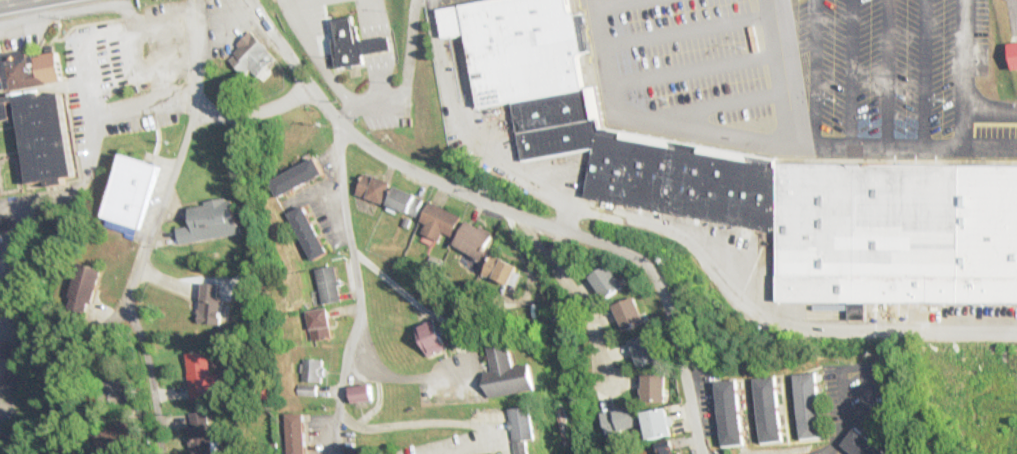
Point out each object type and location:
road: (287, 0)
road: (608, 2)
road: (688, 28)
building: (352, 43)
street lamp: (742, 47)
road: (376, 48)
building: (1012, 54)
building: (254, 55)
road: (314, 55)
road: (407, 55)
road: (694, 67)
parking lot: (804, 69)
road: (783, 71)
road: (812, 72)
road: (848, 72)
road: (885, 72)
road: (922, 73)
road: (961, 73)
road: (721, 101)
road: (355, 103)
road: (988, 108)
road: (252, 111)
building: (36, 114)
road: (649, 119)
road: (877, 144)
road: (989, 146)
building: (10, 174)
building: (755, 177)
building: (296, 178)
building: (372, 188)
building: (130, 192)
building: (404, 201)
road: (513, 210)
road: (564, 214)
building: (209, 221)
building: (438, 221)
road: (150, 227)
building: (308, 233)
road: (675, 234)
building: (473, 240)
building: (499, 270)
building: (606, 282)
building: (328, 285)
road: (570, 290)
building: (81, 291)
road: (356, 292)
building: (209, 304)
building: (628, 314)
building: (319, 324)
building: (430, 339)
building: (643, 350)
building: (24, 354)
building: (312, 371)
building: (506, 373)
building: (202, 378)
building: (653, 388)
road: (337, 393)
building: (808, 406)
building: (769, 410)
building: (731, 413)
building: (620, 419)
building: (657, 422)
building: (522, 429)
building: (201, 433)
building: (296, 434)
building: (860, 444)
building: (667, 448)
road: (793, 449)
building: (500, 453)

